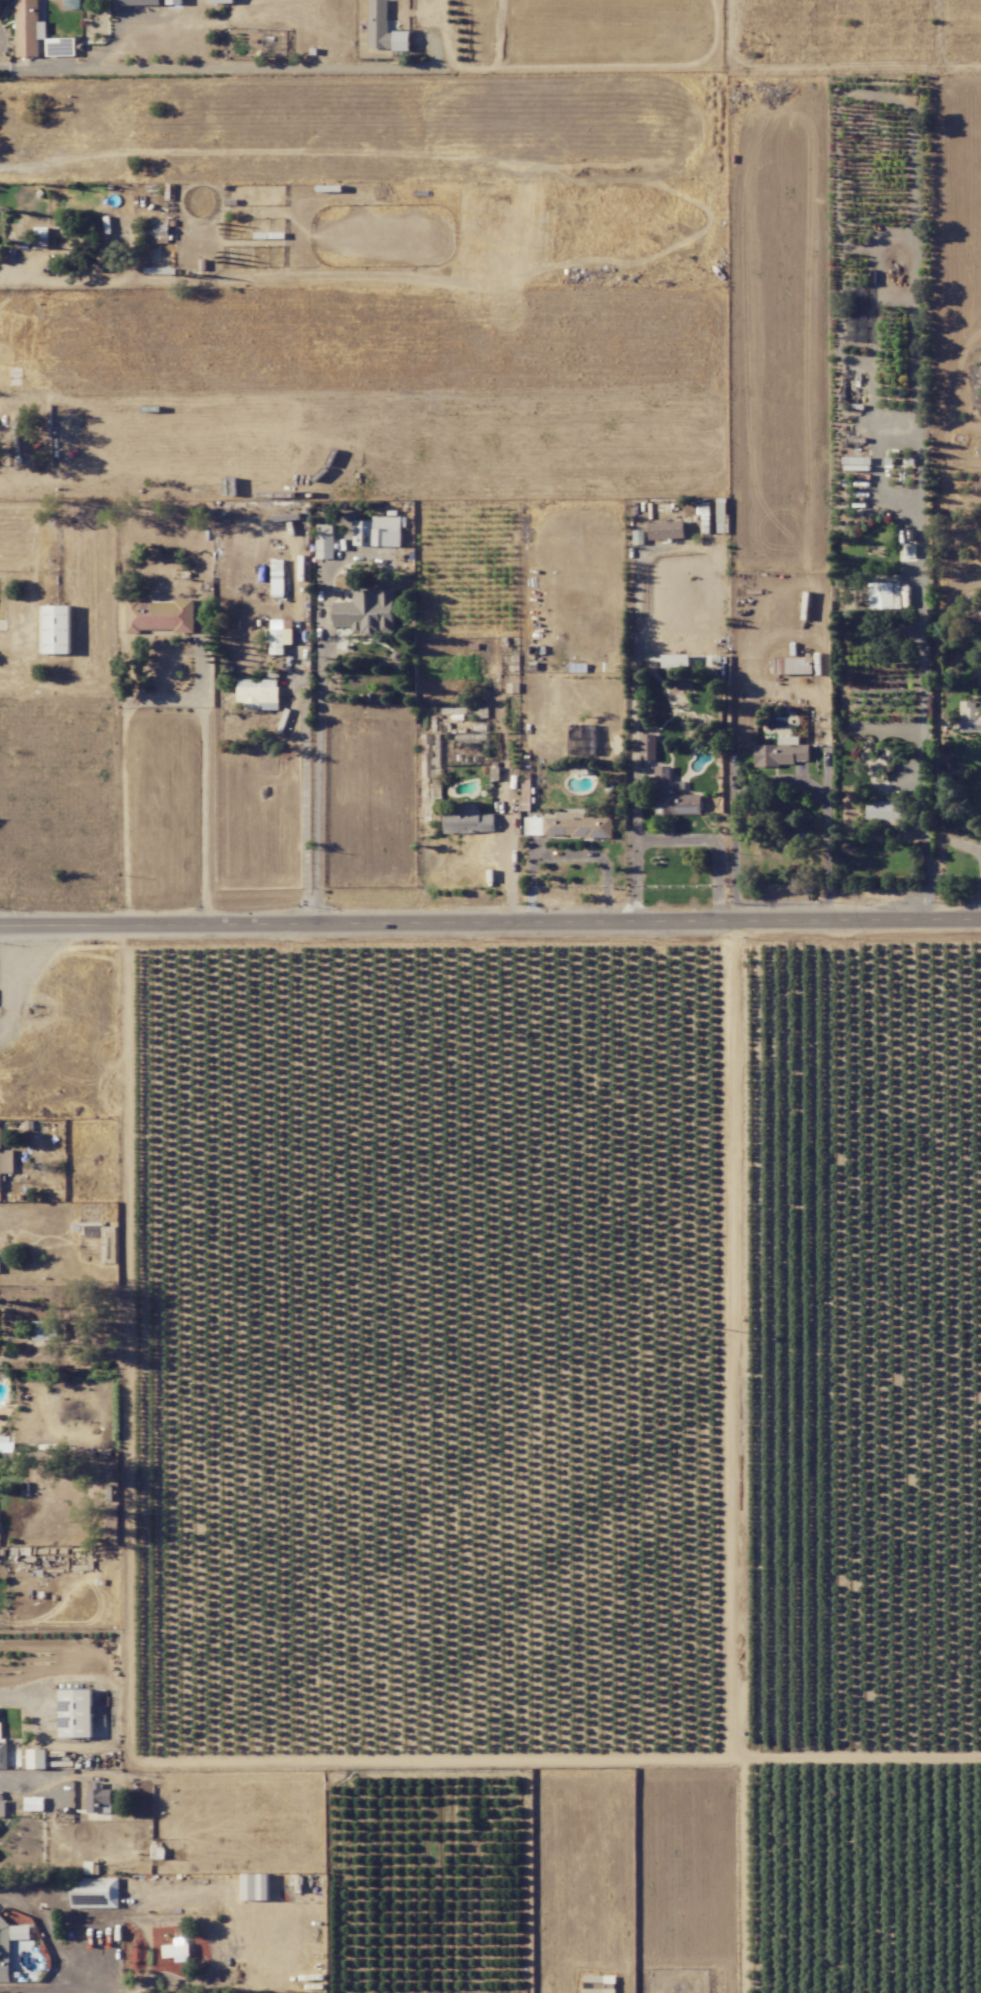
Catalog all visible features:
building: (221, 1)
building: (139, 2)
building: (174, 4)
building: (28, 28)
building: (384, 28)
road: (189, 69)
building: (155, 230)
building: (41, 231)
road: (88, 281)
building: (666, 530)
building: (378, 531)
building: (638, 537)
building: (325, 541)
building: (277, 577)
building: (366, 612)
building: (160, 615)
building: (56, 629)
building: (280, 634)
building: (675, 660)
building: (793, 665)
road: (921, 670)
building: (259, 691)
building: (970, 716)
building: (648, 746)
road: (319, 752)
building: (782, 752)
road: (204, 773)
road: (126, 776)
road: (779, 781)
building: (525, 794)
building: (672, 795)
building: (435, 797)
building: (885, 809)
building: (467, 820)
building: (567, 825)
road: (978, 907)
road: (490, 921)
road: (23, 981)
building: (44, 1330)
building: (7, 1446)
road: (725, 1456)
building: (75, 1713)
building: (3, 1754)
building: (35, 1759)
road: (27, 1777)
building: (98, 1800)
building: (34, 1803)
building: (2, 1808)
building: (94, 1892)
road: (210, 1928)
road: (50, 1949)
building: (175, 1950)
building: (4, 1960)
building: (598, 1984)

